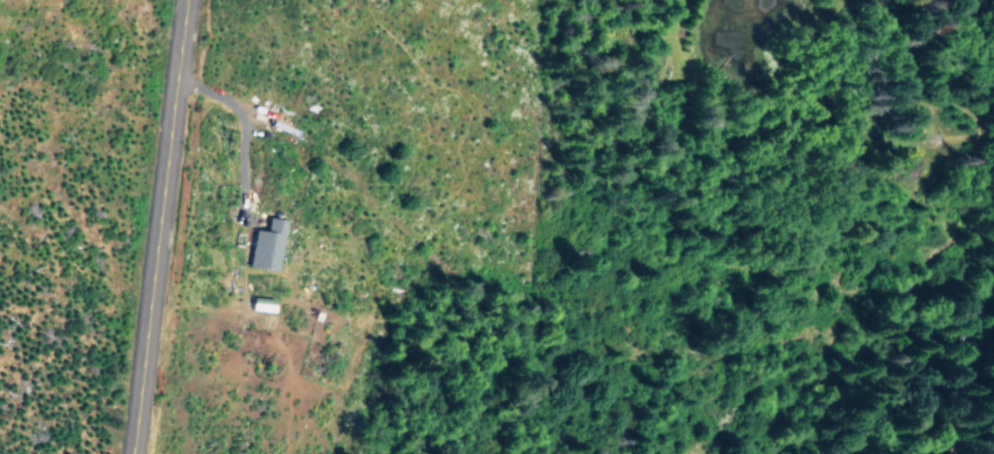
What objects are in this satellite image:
road: (157, 227)
building: (264, 243)
building: (260, 302)

